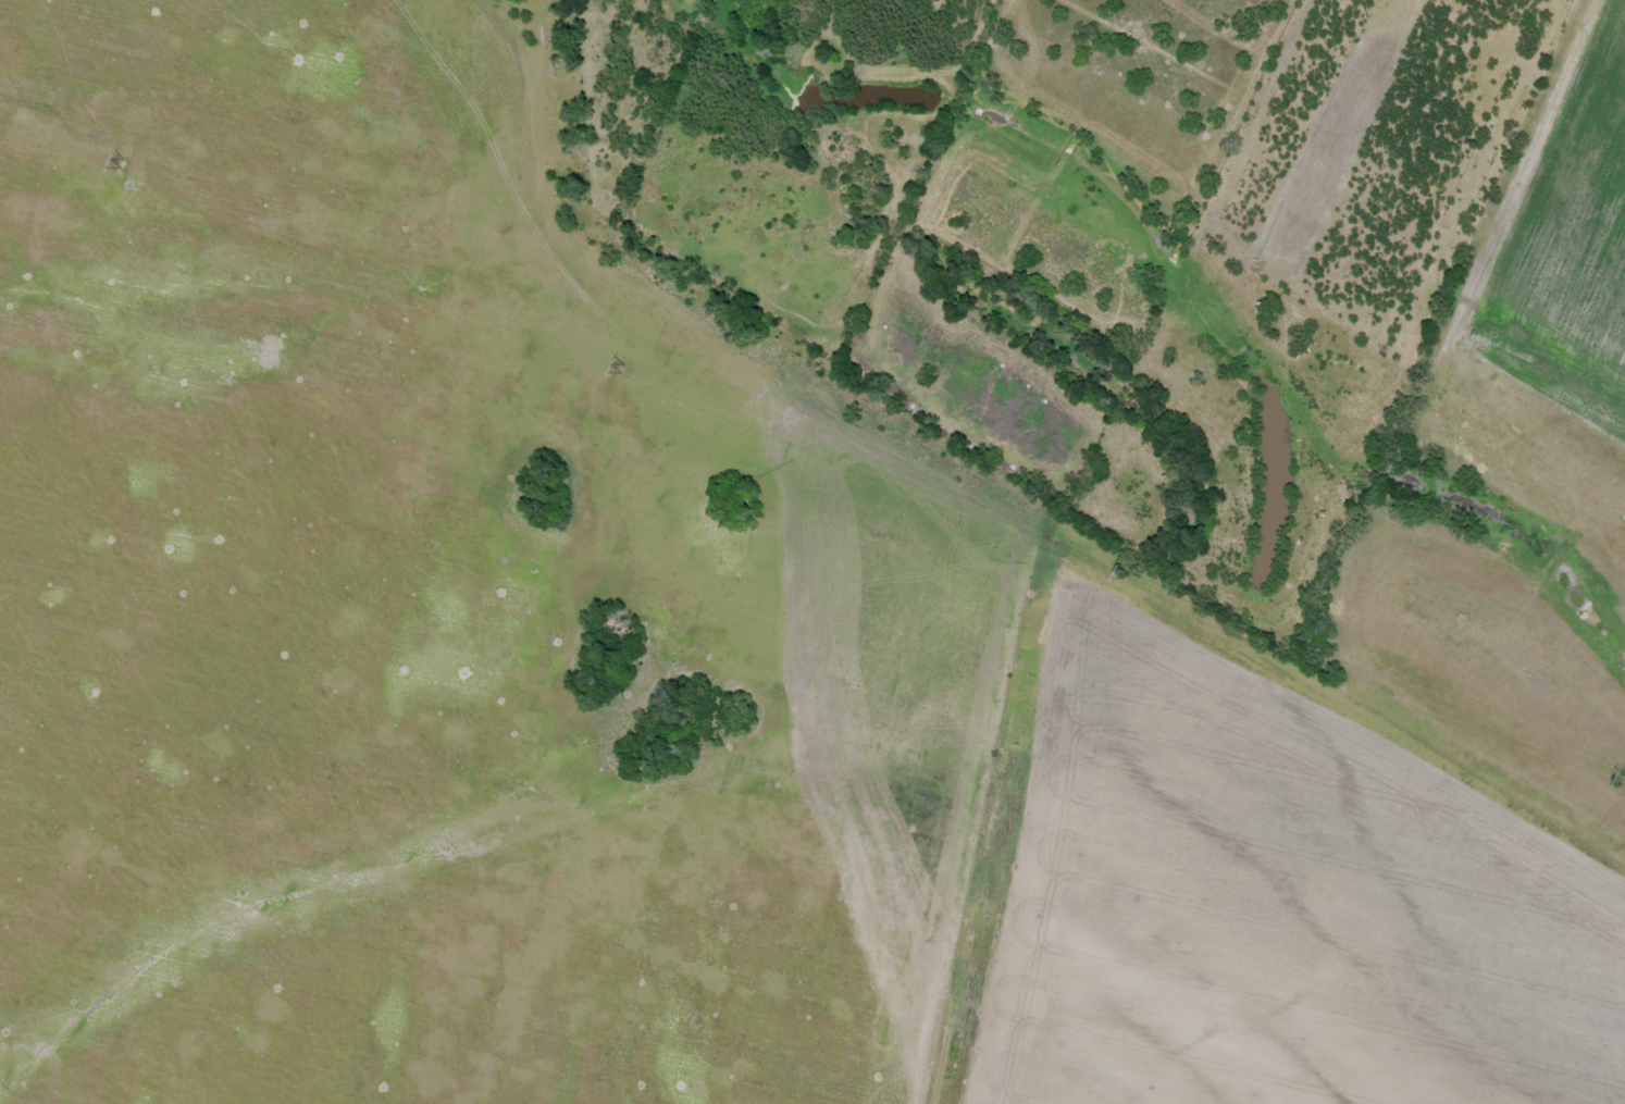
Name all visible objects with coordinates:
power tower: (121, 164)
power tower: (621, 368)
power tower: (1120, 575)
power tower: (1620, 779)

